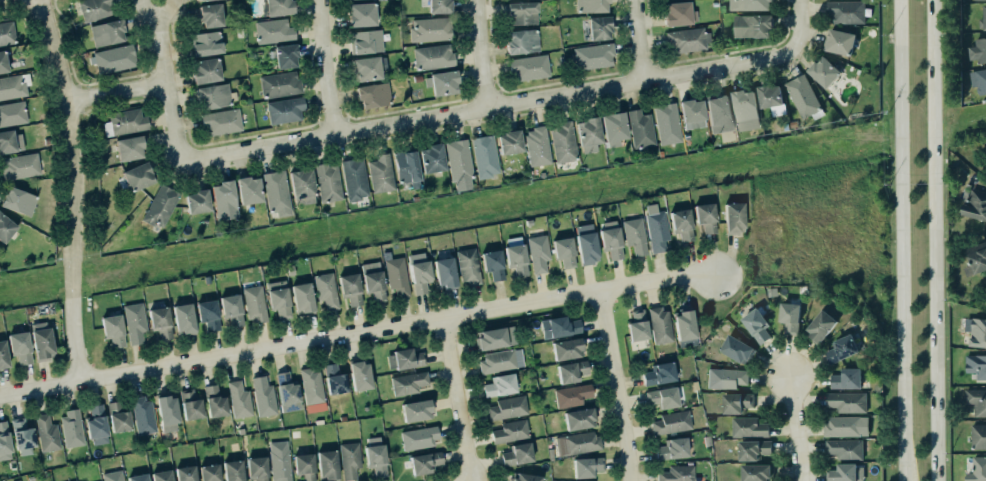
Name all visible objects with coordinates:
building: (202, 0)
building: (980, 0)
building: (750, 5)
building: (438, 6)
building: (592, 6)
building: (278, 7)
building: (94, 8)
building: (846, 12)
building: (521, 13)
building: (679, 13)
building: (360, 14)
building: (209, 15)
building: (984, 17)
road: (799, 23)
building: (753, 26)
building: (599, 28)
building: (429, 29)
building: (274, 30)
building: (108, 32)
building: (7, 33)
road: (639, 39)
building: (685, 40)
building: (364, 41)
building: (522, 41)
building: (840, 42)
building: (206, 43)
building: (978, 50)
road: (481, 53)
building: (592, 55)
building: (284, 56)
building: (432, 56)
building: (113, 59)
building: (3, 62)
road: (329, 66)
building: (530, 67)
building: (368, 68)
building: (204, 71)
building: (824, 72)
building: (978, 80)
road: (166, 81)
building: (442, 83)
building: (12, 84)
building: (280, 84)
road: (116, 92)
building: (374, 95)
building: (214, 96)
building: (801, 96)
building: (771, 99)
road: (491, 106)
building: (284, 110)
building: (690, 110)
building: (744, 111)
building: (11, 112)
building: (717, 113)
building: (220, 121)
building: (125, 122)
building: (666, 123)
building: (613, 127)
building: (639, 129)
building: (587, 132)
building: (9, 140)
building: (562, 142)
building: (509, 143)
building: (536, 146)
building: (129, 148)
building: (485, 156)
building: (432, 158)
building: (457, 160)
building: (20, 166)
building: (405, 166)
building: (379, 173)
building: (136, 177)
building: (353, 179)
building: (328, 182)
building: (302, 186)
road: (74, 190)
building: (247, 191)
building: (277, 192)
building: (16, 199)
building: (223, 201)
building: (196, 202)
building: (974, 204)
building: (159, 206)
building: (703, 215)
building: (732, 216)
building: (682, 224)
building: (5, 226)
building: (656, 228)
building: (635, 235)
road: (900, 240)
road: (932, 240)
building: (584, 242)
building: (611, 242)
building: (562, 250)
building: (536, 251)
building: (514, 258)
building: (976, 262)
building: (491, 263)
building: (468, 266)
building: (445, 273)
building: (397, 276)
building: (420, 276)
building: (373, 279)
building: (348, 287)
building: (326, 290)
building: (278, 298)
building: (302, 298)
building: (254, 303)
building: (229, 307)
building: (208, 314)
building: (182, 317)
building: (790, 318)
building: (135, 322)
building: (160, 322)
building: (754, 324)
building: (637, 325)
building: (660, 325)
building: (821, 326)
building: (559, 327)
building: (685, 328)
building: (113, 329)
building: (978, 333)
road: (358, 334)
building: (496, 337)
building: (41, 340)
building: (17, 341)
building: (563, 347)
building: (735, 348)
building: (841, 349)
building: (3, 355)
building: (404, 359)
building: (499, 360)
building: (976, 366)
building: (569, 369)
building: (659, 374)
building: (360, 375)
building: (727, 378)
building: (846, 379)
building: (335, 380)
building: (407, 382)
building: (497, 383)
building: (312, 385)
road: (619, 385)
building: (284, 387)
building: (570, 394)
building: (660, 396)
building: (264, 397)
building: (237, 398)
road: (458, 400)
building: (214, 401)
building: (977, 401)
building: (734, 402)
building: (847, 402)
building: (190, 405)
building: (506, 406)
building: (414, 409)
building: (165, 411)
building: (140, 414)
building: (118, 416)
building: (580, 418)
building: (671, 422)
building: (94, 423)
building: (843, 425)
building: (747, 426)
building: (71, 429)
road: (799, 429)
building: (44, 430)
building: (509, 430)
building: (20, 435)
building: (417, 436)
building: (978, 437)
building: (4, 441)
building: (576, 441)
building: (670, 448)
building: (752, 449)
building: (845, 449)
building: (515, 452)
building: (375, 455)
building: (276, 457)
building: (350, 459)
building: (422, 461)
building: (302, 465)
building: (327, 465)
building: (585, 465)
building: (255, 468)
building: (231, 469)
building: (977, 470)
building: (208, 472)
building: (755, 472)
building: (840, 472)
building: (184, 473)
building: (677, 473)
building: (111, 475)
building: (159, 475)
building: (523, 476)
building: (135, 477)
building: (75, 480)
building: (121, 480)
building: (194, 480)
building: (266, 480)
building: (680, 480)

